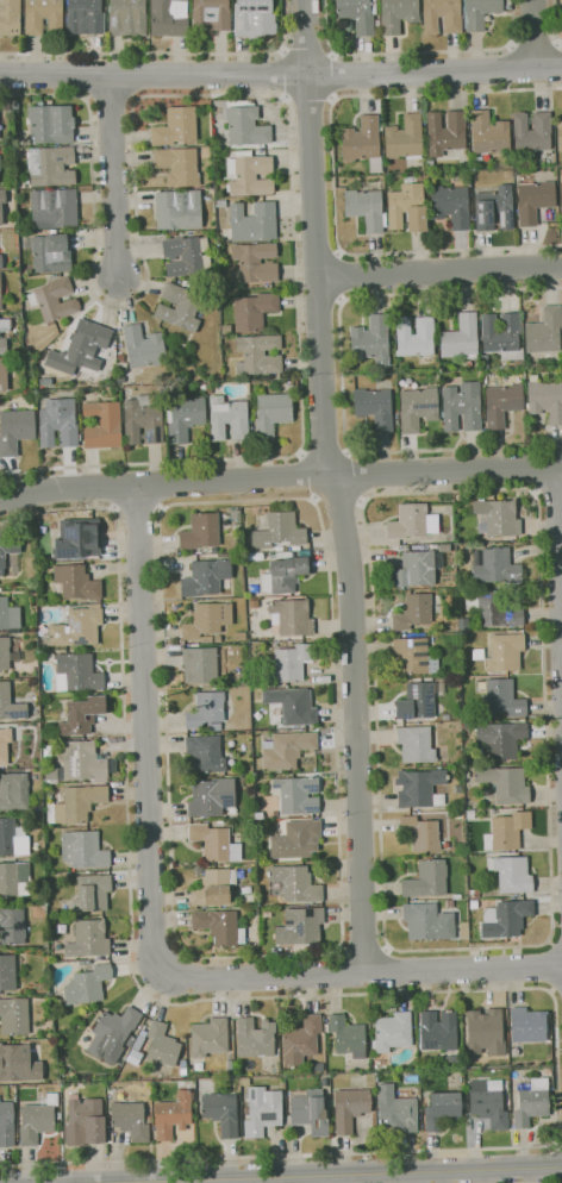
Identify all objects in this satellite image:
road: (512, 6)
building: (480, 13)
building: (211, 14)
building: (357, 14)
building: (398, 14)
building: (442, 15)
building: (43, 17)
building: (85, 17)
building: (127, 17)
building: (170, 17)
building: (10, 18)
building: (254, 18)
road: (554, 21)
road: (537, 32)
road: (535, 43)
road: (410, 52)
road: (168, 54)
road: (557, 63)
road: (514, 65)
road: (285, 74)
road: (281, 75)
road: (331, 76)
road: (42, 94)
road: (308, 96)
building: (15, 106)
road: (289, 120)
building: (243, 124)
building: (50, 125)
building: (176, 126)
building: (532, 131)
building: (445, 132)
building: (489, 133)
building: (560, 133)
building: (405, 138)
building: (362, 139)
building: (0, 164)
building: (430, 164)
building: (51, 165)
building: (179, 165)
road: (333, 170)
building: (250, 174)
road: (114, 177)
building: (21, 183)
building: (561, 195)
building: (535, 200)
building: (1, 202)
building: (221, 204)
building: (451, 206)
building: (54, 207)
building: (179, 208)
building: (366, 208)
building: (407, 208)
building: (495, 208)
building: (252, 221)
building: (174, 233)
building: (0, 250)
building: (50, 252)
building: (187, 256)
building: (1, 261)
building: (256, 262)
road: (439, 271)
road: (341, 276)
building: (187, 283)
building: (0, 298)
road: (319, 298)
building: (55, 299)
building: (180, 307)
building: (254, 311)
building: (392, 323)
building: (5, 325)
building: (226, 330)
building: (545, 331)
building: (502, 334)
building: (416, 337)
building: (461, 338)
building: (371, 340)
building: (87, 344)
building: (2, 345)
building: (143, 348)
building: (183, 348)
building: (260, 355)
building: (120, 357)
building: (486, 362)
building: (514, 368)
road: (342, 373)
building: (4, 375)
building: (210, 390)
building: (30, 395)
building: (545, 400)
building: (501, 402)
building: (375, 407)
building: (462, 407)
building: (418, 408)
building: (273, 413)
building: (185, 418)
building: (229, 418)
building: (143, 419)
building: (58, 422)
building: (102, 425)
building: (15, 430)
road: (348, 452)
road: (302, 455)
road: (325, 455)
road: (533, 468)
road: (310, 476)
road: (352, 476)
road: (280, 477)
road: (335, 484)
road: (548, 490)
road: (337, 497)
road: (314, 499)
road: (361, 501)
road: (137, 512)
building: (236, 515)
building: (498, 517)
building: (412, 521)
building: (237, 525)
road: (560, 530)
building: (201, 531)
building: (280, 531)
building: (77, 538)
building: (445, 547)
building: (8, 550)
building: (304, 552)
building: (213, 555)
building: (285, 555)
building: (495, 565)
building: (416, 569)
building: (285, 575)
building: (207, 577)
building: (76, 582)
building: (494, 608)
building: (414, 611)
building: (10, 615)
building: (291, 616)
building: (207, 619)
building: (451, 625)
building: (74, 628)
building: (241, 636)
building: (218, 638)
building: (206, 639)
building: (211, 644)
building: (506, 652)
building: (7, 653)
building: (479, 653)
building: (414, 656)
building: (291, 663)
building: (200, 665)
building: (77, 672)
building: (76, 696)
building: (504, 697)
building: (417, 701)
building: (11, 703)
building: (293, 705)
building: (206, 709)
building: (82, 715)
building: (216, 727)
road: (143, 728)
building: (501, 738)
building: (5, 744)
building: (416, 744)
building: (49, 749)
building: (287, 749)
building: (205, 753)
building: (81, 759)
building: (427, 768)
building: (51, 774)
building: (467, 776)
building: (505, 784)
building: (420, 788)
building: (458, 789)
building: (14, 791)
building: (298, 794)
building: (212, 796)
building: (76, 803)
building: (458, 814)
building: (470, 814)
building: (258, 815)
building: (219, 821)
building: (507, 831)
building: (420, 833)
building: (13, 838)
building: (298, 839)
building: (214, 843)
building: (83, 849)
building: (458, 849)
building: (512, 874)
building: (14, 878)
building: (427, 878)
building: (294, 883)
building: (214, 887)
building: (93, 891)
building: (474, 893)
building: (457, 896)
building: (250, 897)
building: (449, 903)
building: (474, 905)
building: (267, 914)
building: (506, 918)
building: (427, 922)
building: (12, 926)
building: (220, 926)
building: (300, 926)
building: (464, 929)
road: (342, 937)
building: (88, 939)
road: (556, 941)
road: (387, 945)
road: (363, 947)
building: (275, 950)
building: (82, 962)
road: (550, 965)
road: (386, 970)
road: (344, 971)
road: (360, 971)
building: (7, 972)
building: (88, 984)
road: (400, 991)
road: (556, 991)
building: (14, 1015)
building: (529, 1025)
building: (326, 1027)
building: (438, 1031)
building: (487, 1031)
building: (392, 1032)
building: (113, 1034)
building: (348, 1035)
building: (210, 1037)
building: (255, 1038)
building: (131, 1040)
building: (302, 1040)
building: (138, 1043)
building: (162, 1045)
building: (452, 1060)
building: (18, 1064)
building: (548, 1071)
building: (324, 1082)
building: (488, 1102)
building: (532, 1102)
building: (463, 1104)
building: (350, 1108)
building: (442, 1109)
building: (262, 1110)
building: (398, 1110)
building: (221, 1112)
building: (311, 1112)
building: (173, 1114)
building: (37, 1120)
building: (131, 1120)
building: (85, 1122)
building: (7, 1125)
road: (560, 1143)
road: (560, 1153)
road: (320, 1175)

